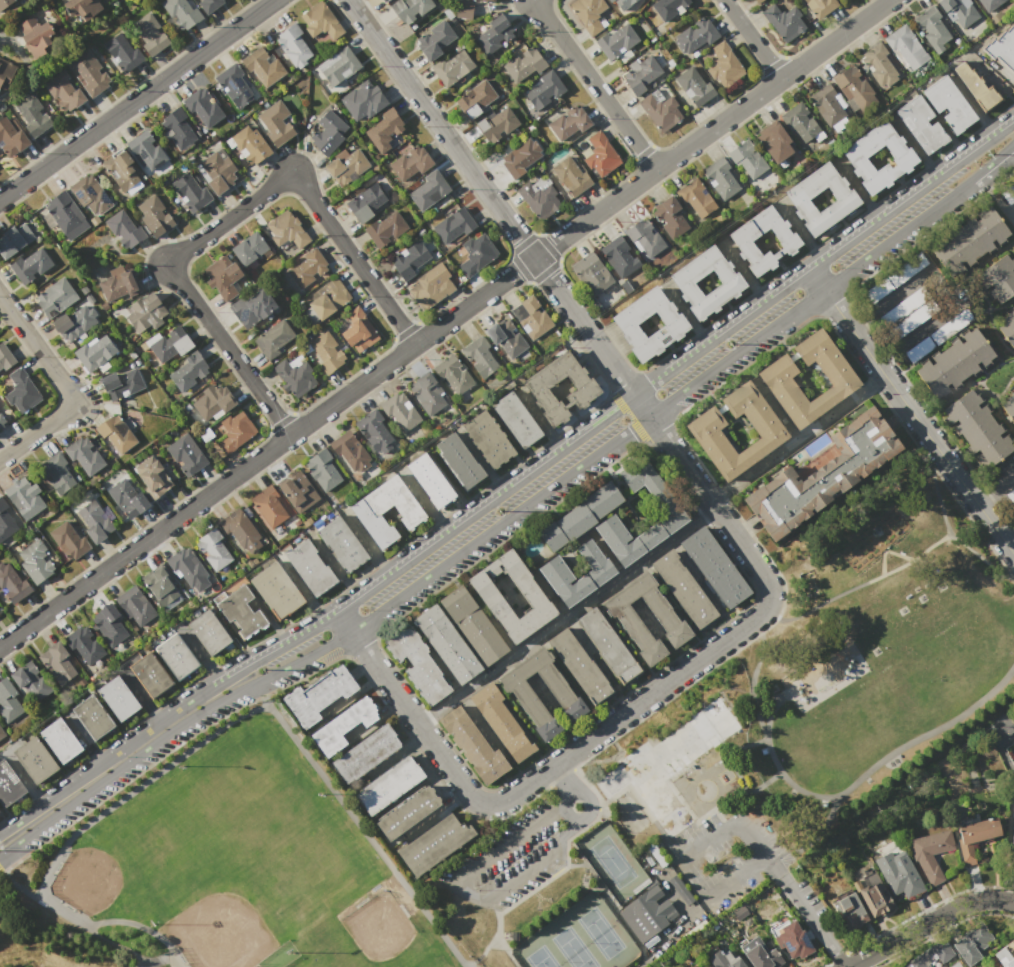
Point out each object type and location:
building: (383, 0)
building: (609, 0)
building: (843, 0)
building: (478, 1)
building: (758, 1)
building: (624, 3)
building: (6, 4)
building: (209, 4)
building: (989, 4)
building: (668, 7)
building: (821, 7)
building: (80, 9)
building: (409, 10)
building: (463, 11)
building: (959, 12)
building: (179, 13)
building: (590, 14)
building: (784, 20)
building: (319, 25)
building: (933, 29)
building: (35, 33)
building: (148, 33)
building: (494, 36)
road: (1, 37)
building: (695, 37)
road: (753, 39)
building: (435, 42)
building: (617, 42)
building: (294, 46)
building: (1002, 47)
building: (905, 48)
building: (122, 51)
building: (722, 64)
building: (523, 66)
building: (880, 66)
building: (263, 67)
building: (452, 67)
building: (339, 68)
building: (4, 71)
building: (88, 71)
building: (640, 74)
road: (595, 84)
building: (235, 85)
building: (694, 86)
building: (976, 86)
building: (854, 88)
building: (543, 90)
building: (64, 91)
road: (136, 99)
building: (475, 101)
building: (362, 102)
building: (948, 103)
building: (828, 105)
building: (201, 109)
building: (661, 109)
building: (32, 114)
building: (275, 122)
building: (568, 123)
building: (799, 123)
building: (921, 124)
building: (498, 125)
building: (177, 128)
building: (383, 129)
building: (325, 131)
building: (11, 136)
building: (774, 141)
building: (246, 145)
building: (145, 150)
building: (597, 153)
building: (856, 153)
power tower: (987, 153)
building: (520, 157)
building: (746, 159)
building: (407, 162)
building: (346, 165)
building: (120, 169)
building: (214, 172)
building: (570, 175)
building: (721, 177)
building: (426, 189)
building: (189, 191)
building: (89, 195)
building: (539, 195)
building: (797, 195)
building: (695, 198)
building: (366, 202)
road: (496, 207)
building: (64, 214)
building: (670, 215)
building: (153, 216)
road: (229, 219)
building: (452, 226)
building: (125, 228)
building: (384, 228)
building: (286, 233)
building: (741, 236)
building: (644, 238)
building: (14, 239)
building: (971, 240)
building: (248, 247)
building: (474, 254)
building: (619, 256)
building: (410, 260)
building: (30, 265)
building: (306, 268)
building: (591, 274)
building: (225, 276)
building: (893, 277)
building: (998, 278)
building: (680, 279)
building: (119, 282)
building: (431, 286)
building: (55, 297)
building: (327, 300)
road: (886, 300)
building: (251, 307)
building: (907, 311)
building: (144, 312)
building: (530, 318)
building: (74, 321)
building: (624, 321)
road: (444, 322)
building: (1009, 322)
building: (950, 327)
building: (356, 330)
building: (274, 338)
building: (504, 338)
road: (908, 340)
power tower: (729, 343)
building: (170, 346)
building: (917, 349)
building: (94, 351)
building: (325, 351)
building: (480, 356)
building: (5, 358)
building: (954, 363)
building: (188, 372)
building: (294, 374)
building: (452, 375)
building: (840, 380)
building: (121, 383)
building: (536, 385)
road: (66, 388)
building: (18, 390)
building: (427, 393)
building: (212, 402)
road: (617, 406)
building: (1008, 406)
building: (399, 411)
road: (911, 411)
building: (2, 420)
building: (516, 420)
building: (977, 428)
building: (231, 432)
building: (703, 432)
building: (375, 433)
building: (115, 434)
road: (796, 437)
building: (488, 439)
building: (349, 452)
building: (84, 455)
building: (185, 455)
building: (458, 461)
building: (322, 469)
building: (57, 473)
building: (821, 474)
building: (150, 478)
building: (429, 480)
road: (994, 487)
building: (298, 492)
building: (1011, 495)
building: (24, 497)
building: (127, 498)
building: (665, 503)
building: (270, 509)
building: (367, 510)
power tower: (499, 510)
road: (514, 511)
building: (579, 516)
building: (8, 518)
building: (94, 522)
road: (944, 522)
building: (238, 530)
road: (1008, 533)
building: (69, 540)
building: (341, 544)
building: (214, 549)
building: (35, 561)
building: (185, 566)
building: (310, 567)
building: (714, 567)
building: (595, 576)
building: (12, 584)
road: (857, 585)
building: (161, 586)
building: (684, 588)
building: (277, 591)
building: (532, 594)
building: (135, 605)
building: (624, 611)
building: (240, 612)
road: (564, 614)
building: (110, 624)
building: (471, 625)
building: (209, 632)
building: (84, 644)
building: (445, 644)
building: (608, 645)
park: (877, 645)
building: (176, 657)
building: (57, 663)
building: (416, 665)
building: (579, 666)
power tower: (262, 668)
building: (151, 674)
building: (31, 682)
building: (319, 695)
building: (562, 695)
road: (770, 697)
building: (118, 698)
building: (9, 701)
road: (620, 714)
road: (772, 715)
building: (92, 717)
building: (501, 722)
building: (342, 725)
building: (1, 733)
road: (81, 740)
building: (60, 741)
building: (472, 745)
building: (366, 753)
road: (107, 757)
building: (34, 760)
road: (702, 775)
road: (739, 776)
road: (558, 780)
building: (8, 785)
building: (389, 785)
road: (586, 794)
road: (747, 796)
road: (832, 797)
building: (408, 812)
park: (208, 818)
building: (1012, 834)
road: (815, 837)
building: (977, 837)
building: (434, 840)
parking lot: (525, 848)
building: (931, 853)
road: (677, 856)
road: (772, 860)
park: (612, 862)
park: (247, 865)
building: (902, 879)
road: (466, 888)
building: (875, 901)
building: (850, 911)
building: (647, 912)
road: (811, 916)
road: (928, 923)
park: (601, 933)
building: (793, 941)
building: (973, 943)
park: (573, 949)
building: (758, 953)
building: (931, 955)
building: (1005, 955)
park: (541, 958)
building: (724, 959)
park: (357, 962)
road: (851, 966)

